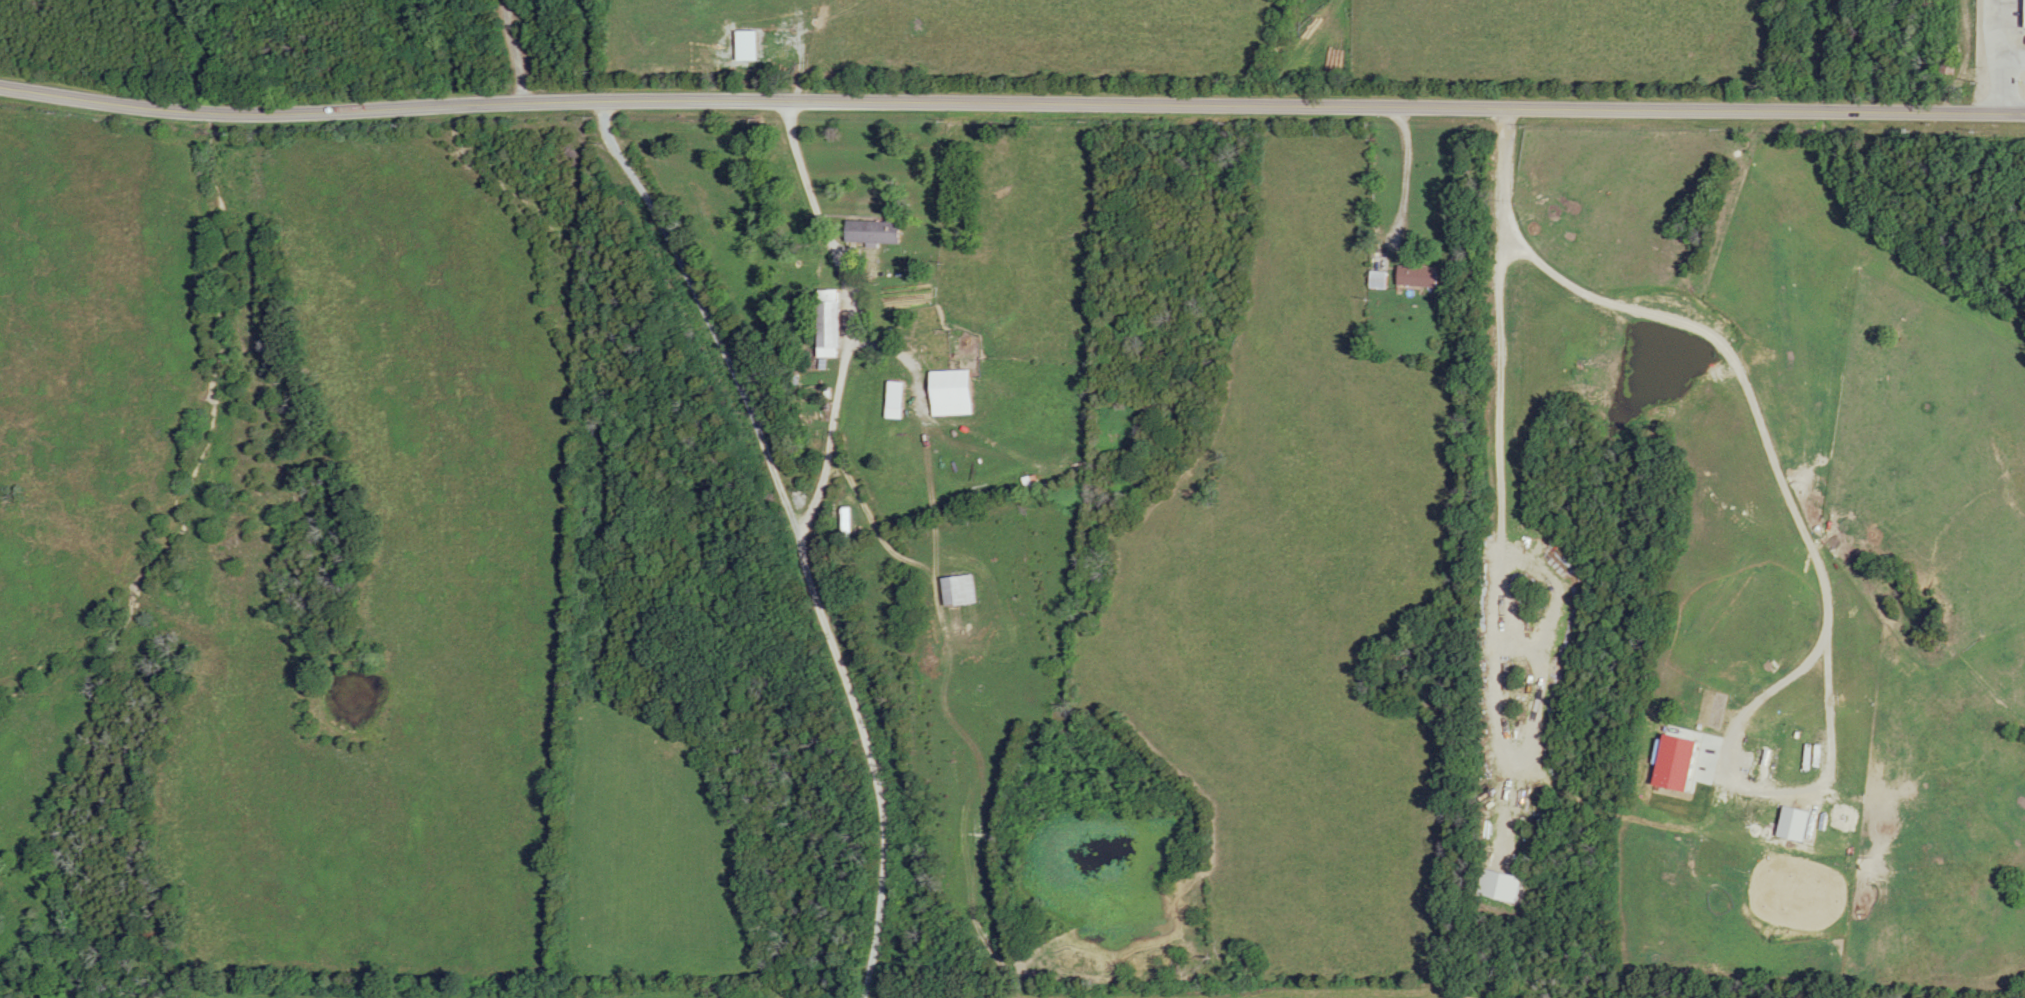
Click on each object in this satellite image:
road: (535, 51)
road: (1011, 103)
building: (878, 231)
building: (1420, 275)
building: (1380, 279)
building: (834, 317)
building: (955, 387)
road: (828, 464)
building: (961, 591)

